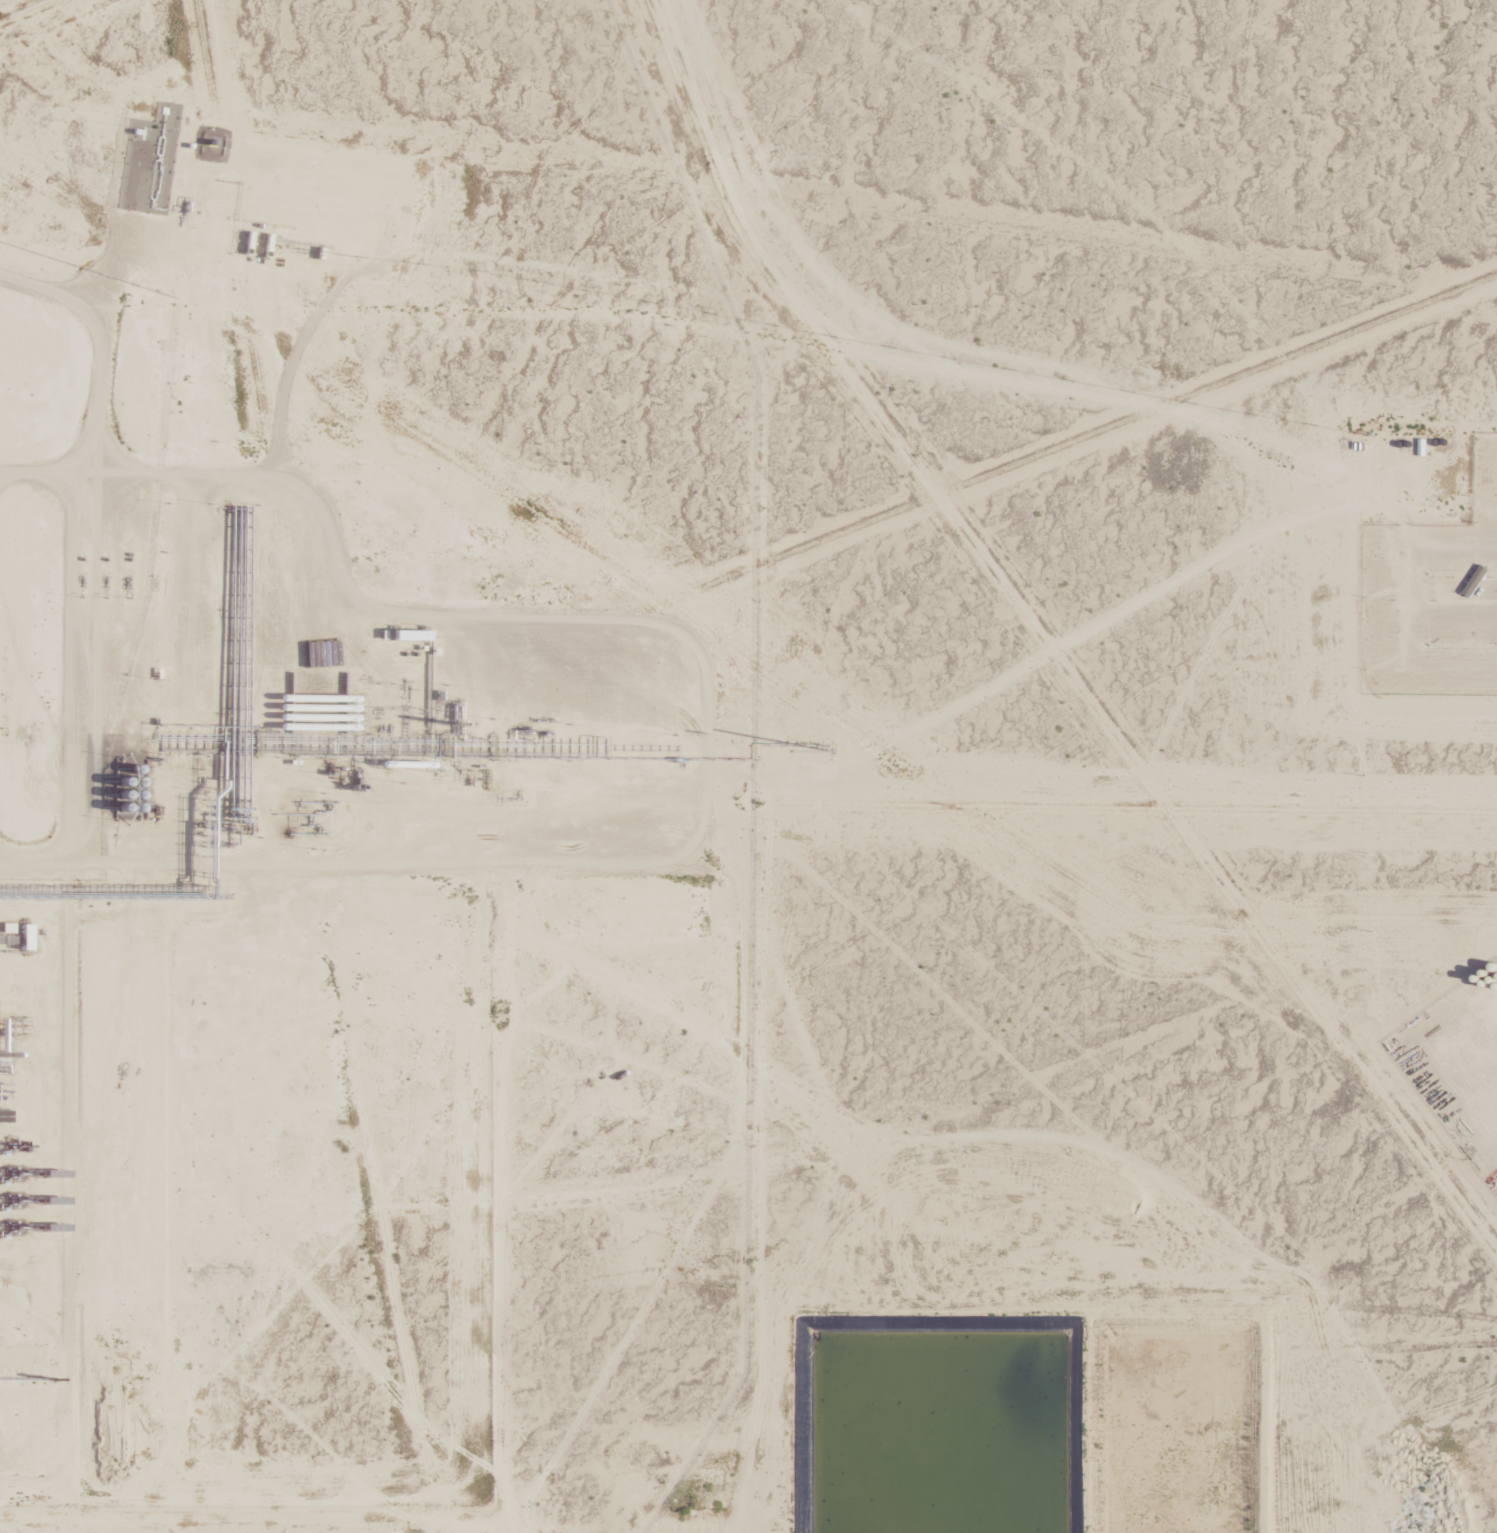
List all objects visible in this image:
building: (410, 636)

